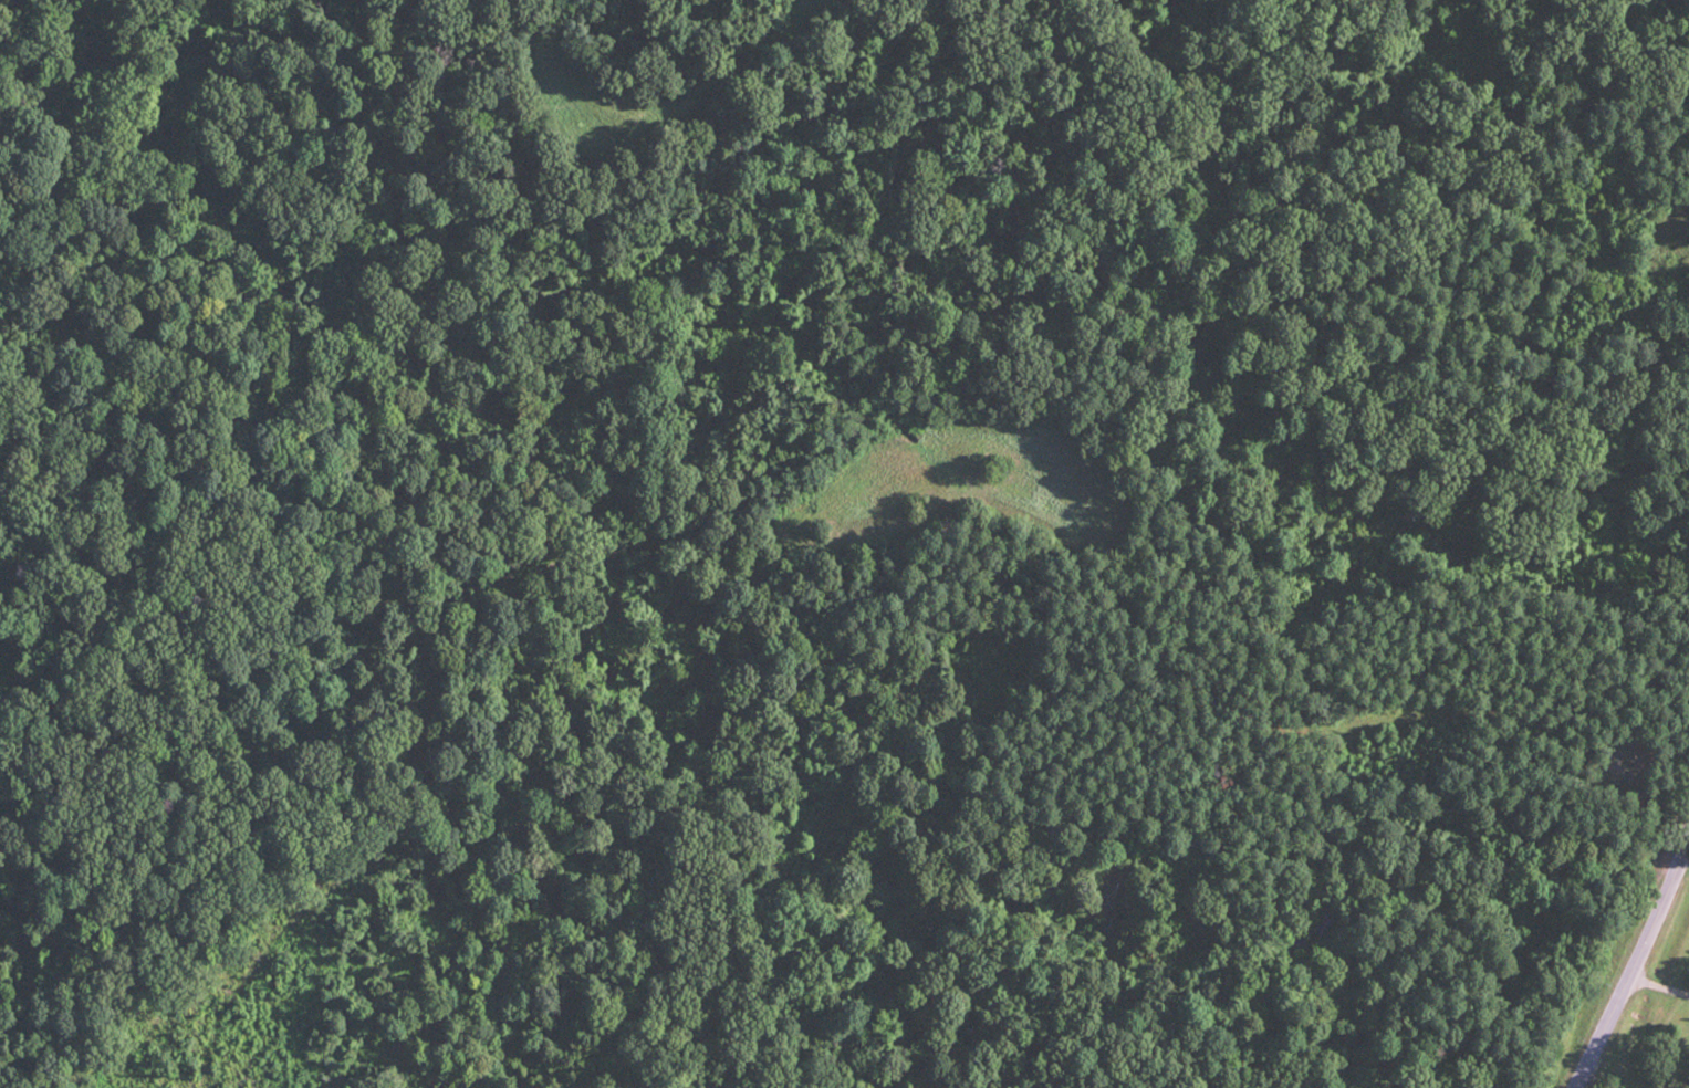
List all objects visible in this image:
road: (1631, 959)

